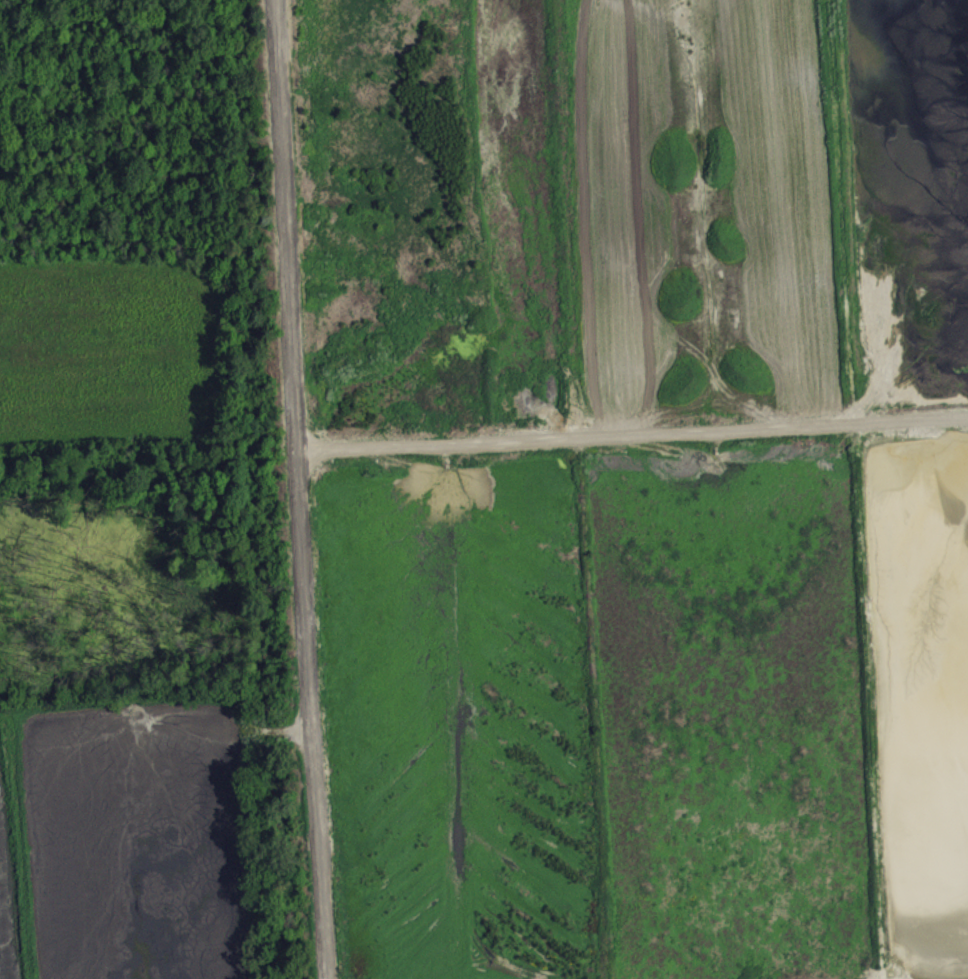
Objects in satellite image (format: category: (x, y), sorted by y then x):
road: (631, 434)
road: (297, 489)

